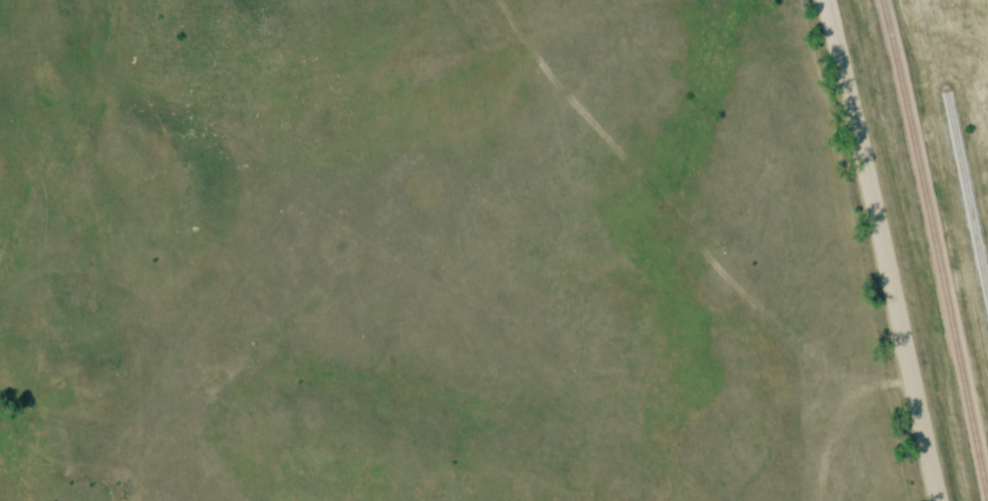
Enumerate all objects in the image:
railway: (966, 201)
road: (876, 250)
railway: (936, 250)

